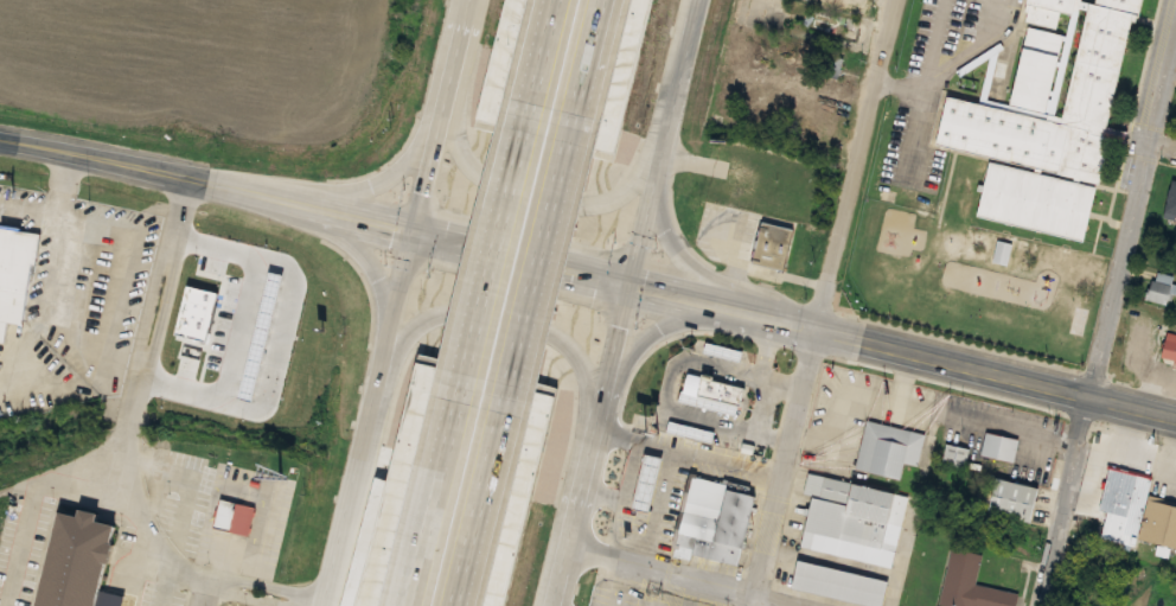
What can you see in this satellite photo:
building: (512, 4)
building: (1044, 11)
building: (832, 20)
road: (538, 66)
building: (831, 66)
road: (586, 82)
road: (597, 82)
building: (1085, 97)
building: (473, 102)
road: (452, 117)
road: (414, 145)
road: (1164, 147)
building: (910, 177)
road: (213, 183)
building: (1025, 197)
building: (1170, 197)
road: (557, 208)
road: (187, 212)
traffic signals: (426, 235)
road: (353, 243)
building: (772, 245)
building: (712, 257)
road: (532, 260)
road: (710, 269)
road: (539, 275)
park: (974, 275)
building: (14, 276)
traffic signals: (639, 286)
building: (1156, 291)
road: (826, 296)
road: (634, 302)
road: (1102, 325)
road: (498, 326)
road: (861, 343)
building: (1169, 345)
building: (724, 351)
road: (464, 370)
building: (717, 387)
road: (628, 401)
building: (711, 402)
road: (1130, 409)
road: (377, 419)
building: (692, 433)
road: (135, 434)
building: (1001, 447)
building: (890, 449)
building: (958, 455)
road: (66, 474)
building: (648, 484)
gas station: (648, 484)
road: (485, 496)
building: (1017, 500)
building: (1136, 512)
building: (228, 513)
building: (716, 519)
building: (855, 519)
road: (33, 543)
building: (94, 563)
road: (689, 579)
building: (971, 583)
road: (274, 585)
building: (842, 585)
road: (184, 587)
road: (219, 593)
road: (248, 598)
road: (749, 600)

